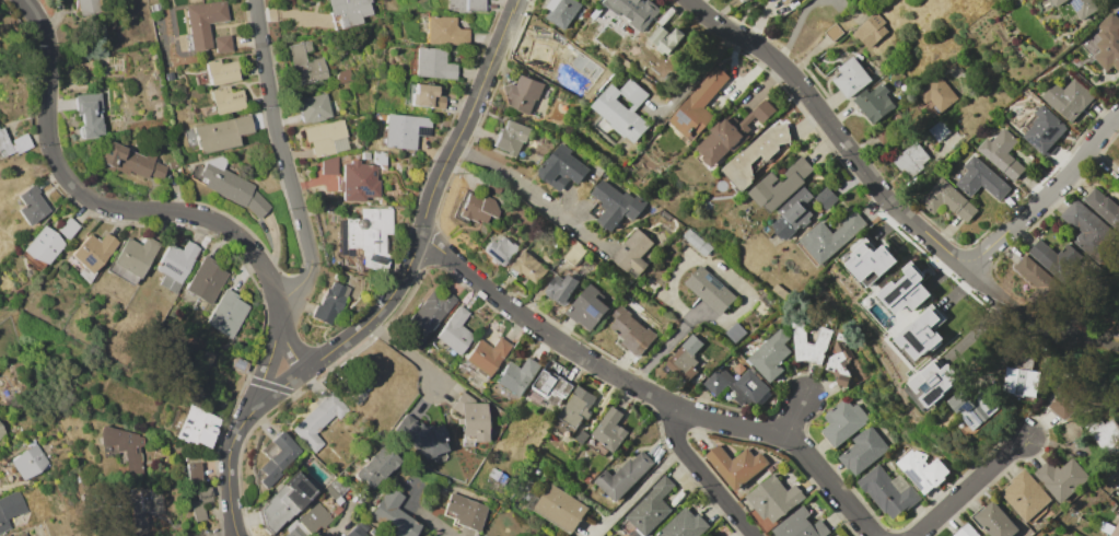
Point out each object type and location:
building: (743, 0)
building: (594, 1)
building: (786, 1)
building: (466, 5)
building: (90, 7)
building: (1080, 7)
building: (153, 8)
building: (636, 10)
building: (562, 11)
building: (347, 12)
building: (596, 13)
building: (205, 21)
building: (834, 31)
building: (871, 31)
building: (445, 32)
building: (666, 38)
building: (1108, 43)
building: (223, 44)
building: (1073, 60)
building: (432, 63)
building: (305, 65)
building: (221, 71)
building: (852, 77)
road: (695, 78)
building: (523, 93)
building: (426, 96)
building: (937, 96)
building: (1069, 97)
building: (226, 100)
building: (874, 103)
building: (698, 105)
building: (316, 107)
building: (622, 109)
building: (1016, 109)
building: (90, 113)
building: (404, 130)
building: (939, 130)
building: (732, 131)
building: (1045, 131)
building: (883, 132)
building: (221, 133)
building: (324, 137)
building: (511, 137)
building: (21, 142)
building: (3, 143)
building: (1002, 152)
building: (365, 154)
building: (756, 154)
building: (381, 158)
building: (911, 159)
building: (130, 162)
building: (326, 166)
building: (562, 167)
road: (864, 173)
building: (981, 179)
building: (359, 180)
building: (225, 184)
building: (780, 185)
building: (493, 188)
road: (533, 193)
road: (1045, 193)
building: (826, 198)
building: (947, 199)
building: (616, 203)
building: (32, 205)
building: (257, 205)
building: (1103, 205)
building: (479, 208)
road: (136, 210)
road: (306, 210)
building: (596, 211)
building: (793, 213)
building: (68, 228)
building: (1089, 231)
building: (370, 236)
building: (830, 237)
building: (697, 241)
building: (43, 245)
building: (501, 249)
building: (574, 253)
building: (632, 253)
building: (93, 255)
building: (136, 255)
building: (1057, 259)
building: (870, 261)
building: (176, 265)
road: (59, 266)
building: (529, 267)
building: (339, 276)
building: (1037, 276)
building: (205, 279)
building: (561, 290)
building: (906, 290)
road: (394, 291)
building: (710, 291)
building: (781, 293)
building: (331, 304)
building: (586, 307)
building: (430, 311)
building: (228, 313)
building: (454, 330)
building: (631, 333)
building: (735, 333)
building: (921, 334)
building: (823, 336)
road: (664, 346)
road: (408, 351)
building: (487, 354)
building: (769, 354)
building: (207, 358)
building: (684, 358)
building: (1024, 361)
building: (238, 364)
building: (844, 364)
road: (130, 365)
building: (516, 378)
building: (933, 382)
building: (1021, 382)
building: (736, 385)
building: (549, 389)
road: (653, 393)
building: (360, 395)
building: (1064, 400)
building: (976, 404)
building: (574, 410)
building: (471, 417)
road: (799, 418)
building: (318, 420)
building: (842, 421)
building: (963, 423)
building: (195, 426)
building: (610, 429)
building: (966, 429)
building: (1071, 431)
building: (1, 433)
building: (1105, 434)
building: (420, 436)
building: (581, 438)
building: (125, 447)
building: (863, 451)
building: (278, 458)
building: (30, 462)
building: (735, 465)
building: (376, 467)
building: (922, 470)
building: (193, 471)
building: (623, 476)
road: (711, 477)
building: (1061, 478)
building: (525, 487)
road: (975, 488)
road: (638, 489)
building: (1105, 490)
building: (330, 491)
building: (888, 491)
road: (645, 492)
building: (1025, 494)
building: (773, 498)
building: (141, 501)
building: (284, 502)
building: (200, 503)
building: (651, 508)
building: (10, 509)
building: (560, 509)
building: (436, 511)
building: (466, 511)
building: (393, 514)
building: (314, 517)
road: (432, 521)
building: (995, 521)
building: (684, 525)
building: (800, 525)
building: (1105, 526)
building: (966, 531)
building: (1116, 531)
building: (295, 532)
building: (355, 532)
building: (21, 534)
building: (7, 535)
building: (183, 535)
building: (336, 535)

